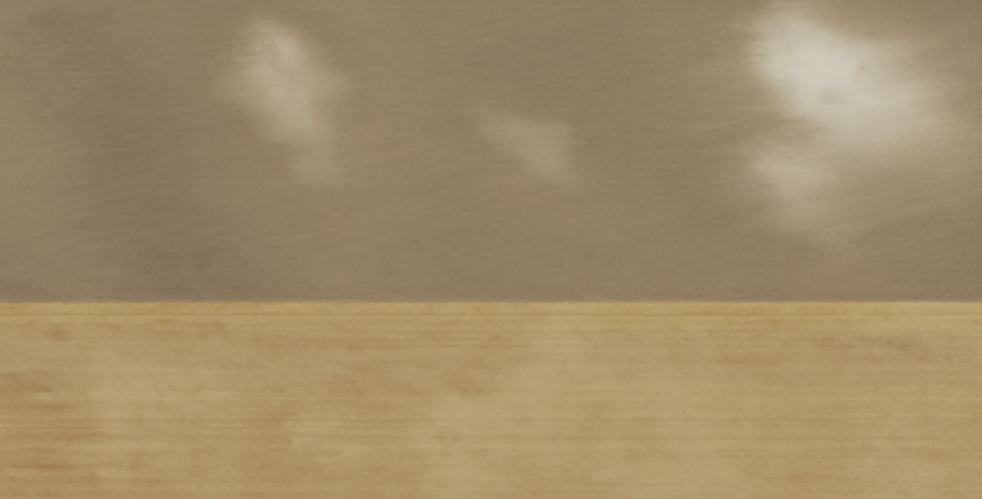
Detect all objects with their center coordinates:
crop: (491, 249)

